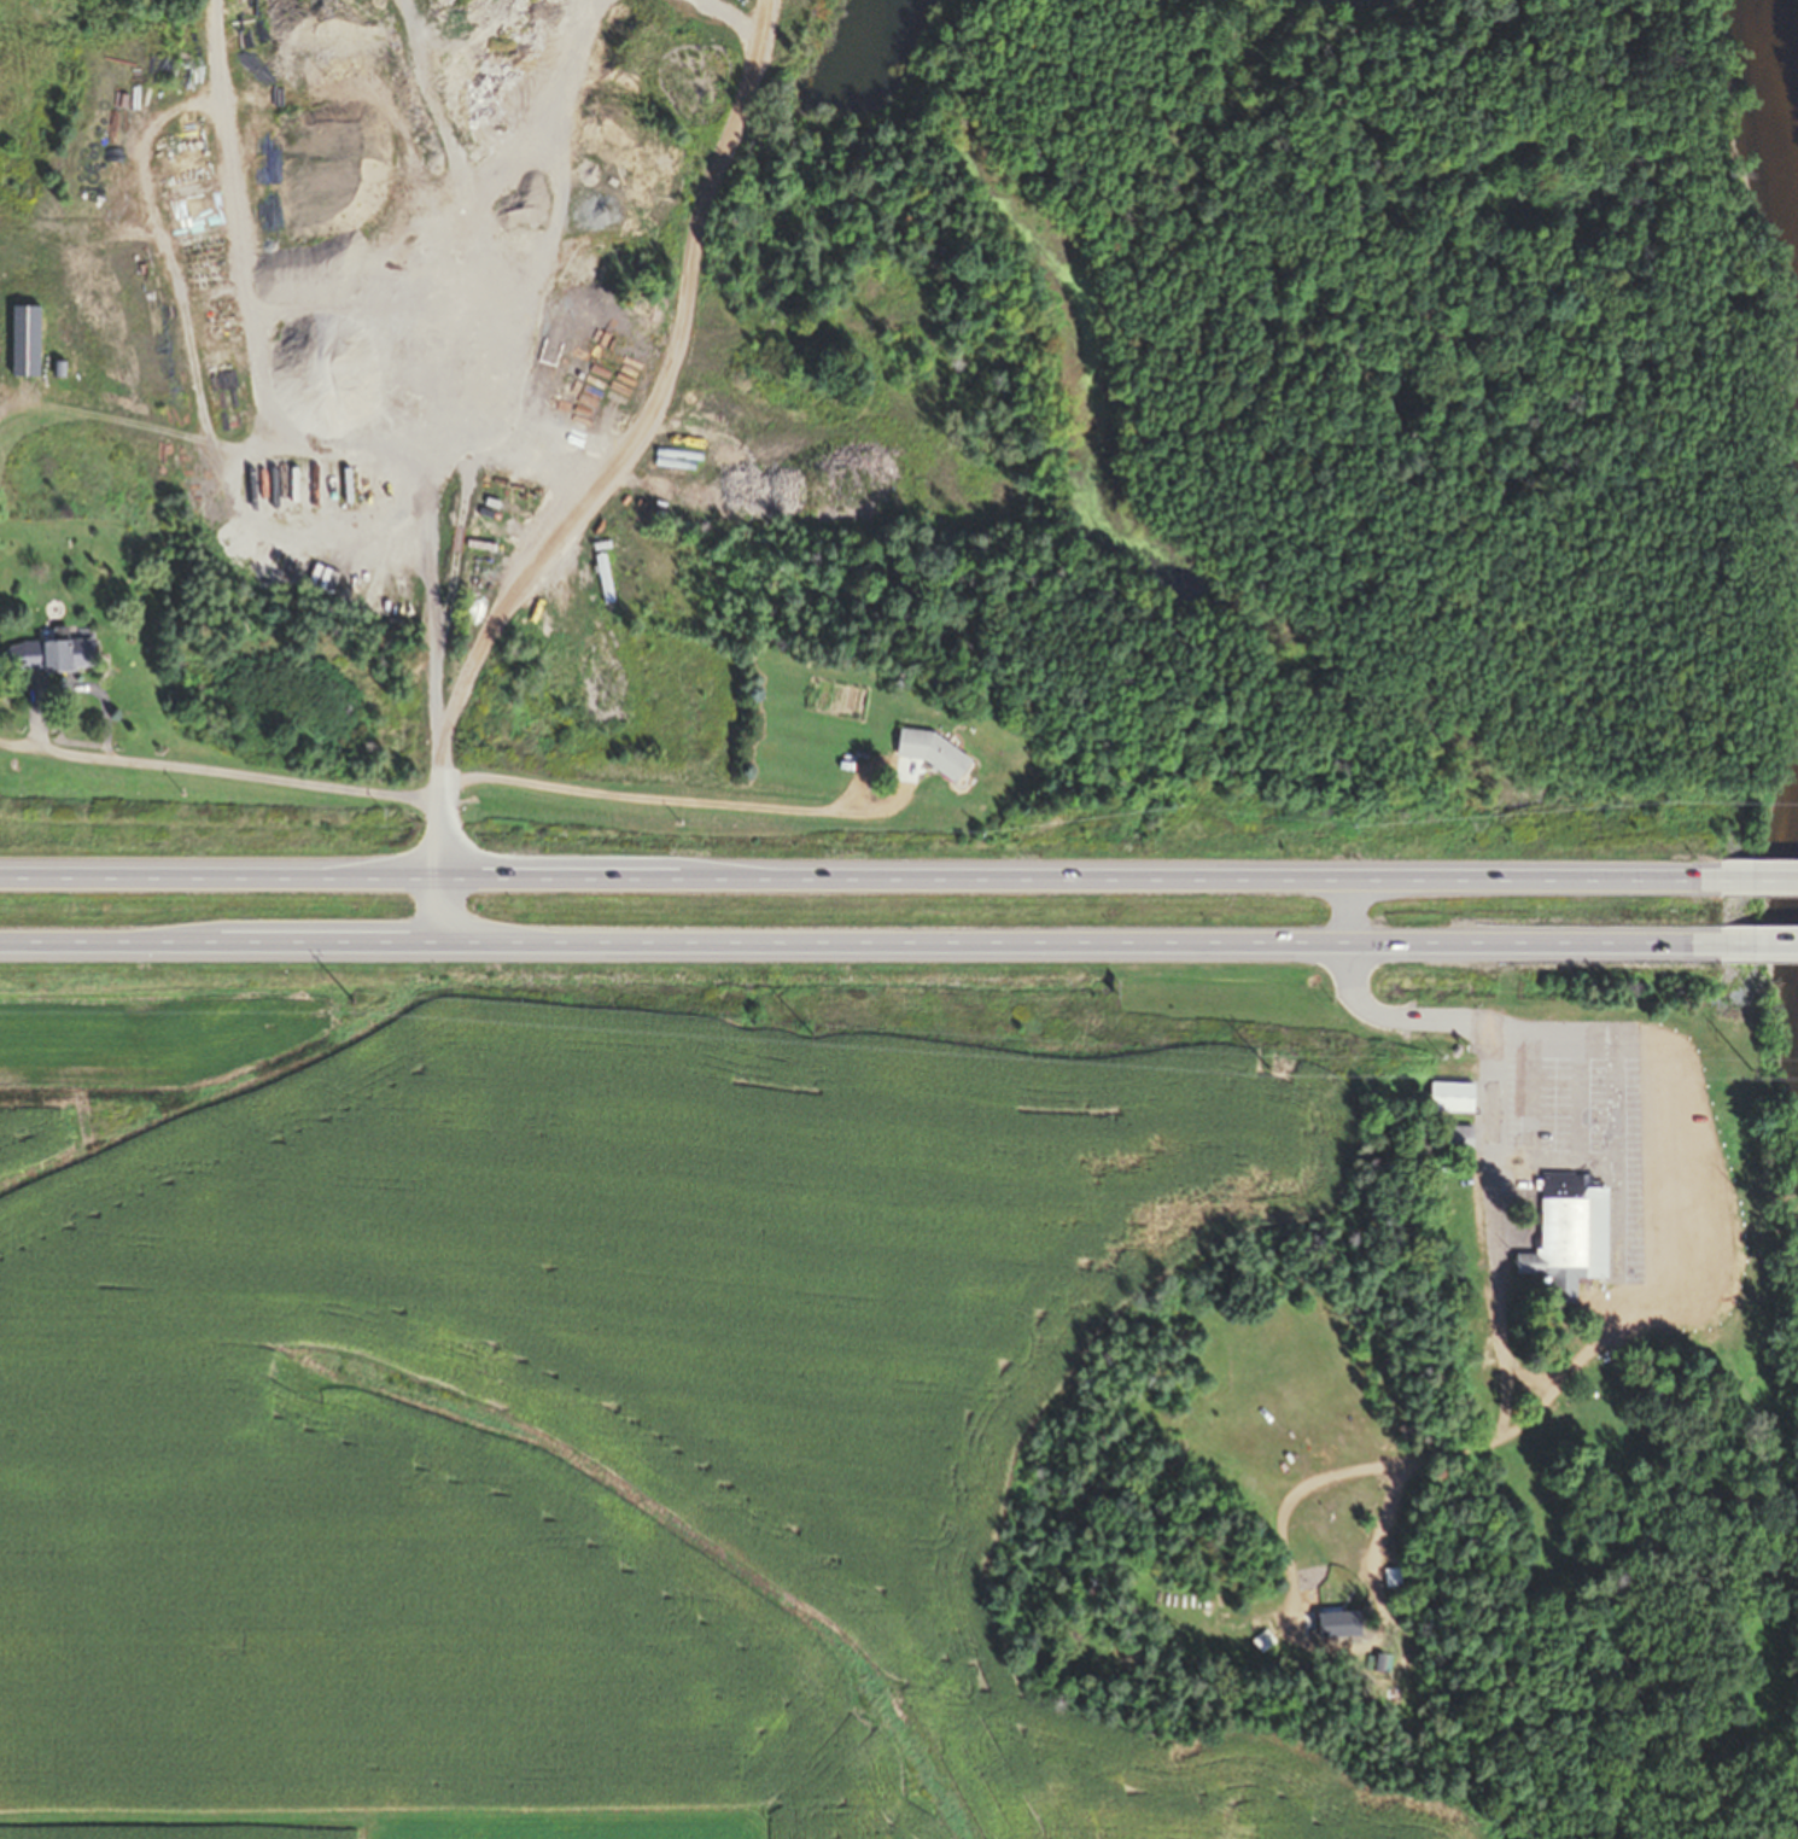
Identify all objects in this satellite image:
river: (1790, 56)
quarry: (1302, 228)
quarry: (1302, 228)
building: (22, 340)
quarry: (457, 407)
quarry: (81, 483)
building: (46, 655)
building: (568, 679)
road: (438, 806)
road: (859, 876)
road: (1759, 877)
road: (1755, 946)
road: (856, 947)
power tower: (352, 1000)
road: (1432, 1020)
power tower: (808, 1034)
power tower: (1266, 1066)
power tower: (1750, 1067)
building: (1448, 1096)
building: (1457, 1137)
building: (1566, 1231)
building: (1390, 1575)
building: (1335, 1623)

